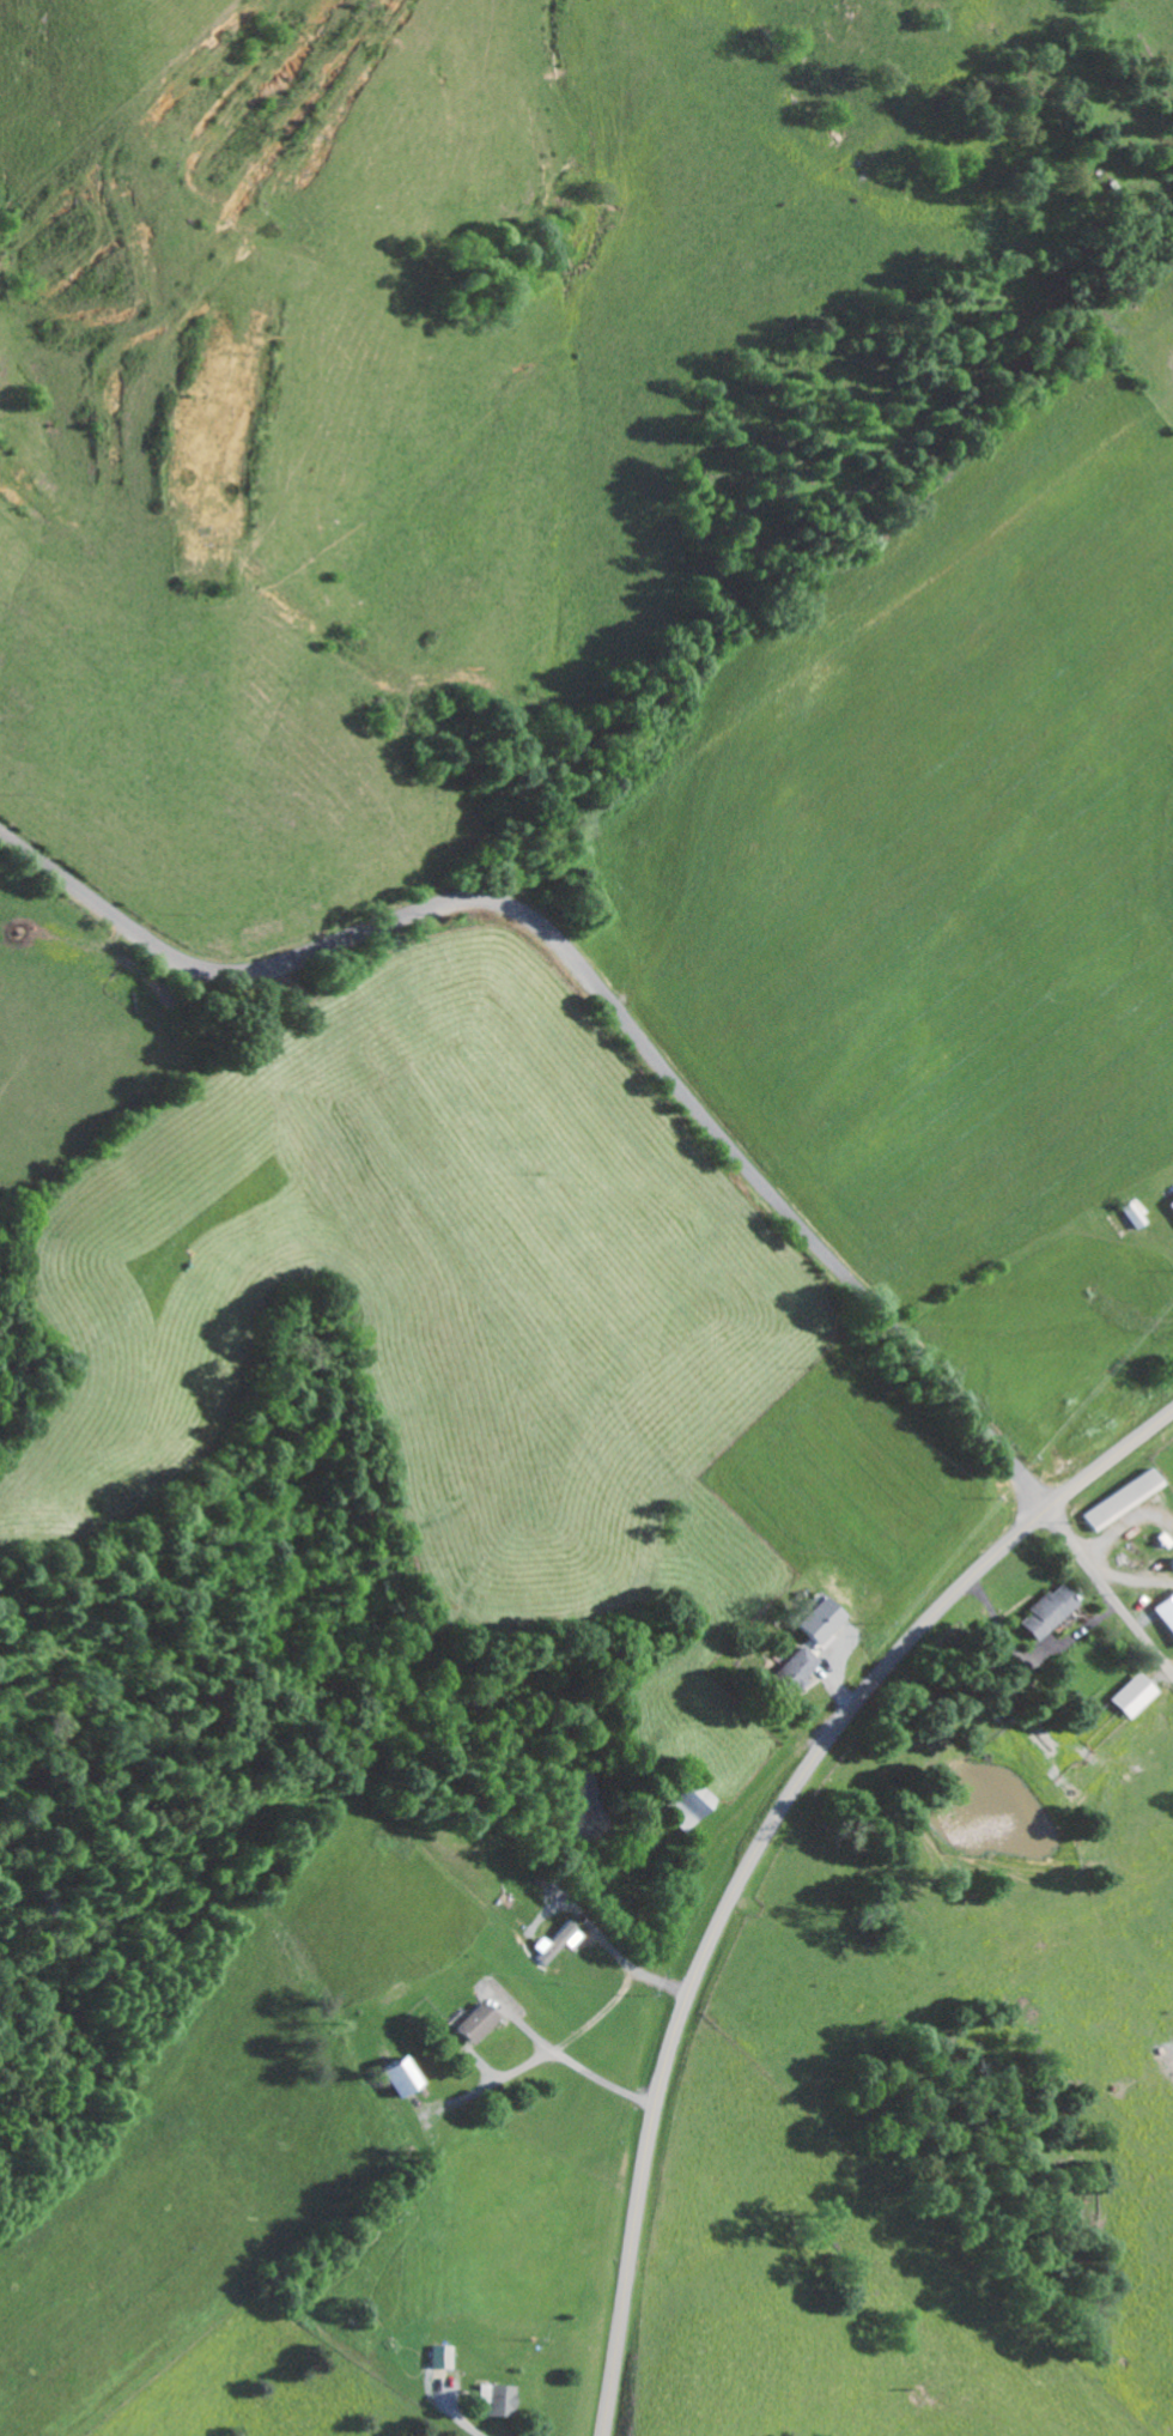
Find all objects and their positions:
road: (598, 988)
building: (1168, 1205)
building: (1130, 1214)
building: (1114, 1499)
road: (1108, 1590)
building: (1043, 1612)
building: (1163, 1613)
building: (822, 1619)
building: (801, 1662)
building: (1129, 1696)
road: (755, 1849)
building: (561, 1940)
building: (480, 2020)
building: (406, 2077)
building: (449, 2356)
building: (503, 2398)

